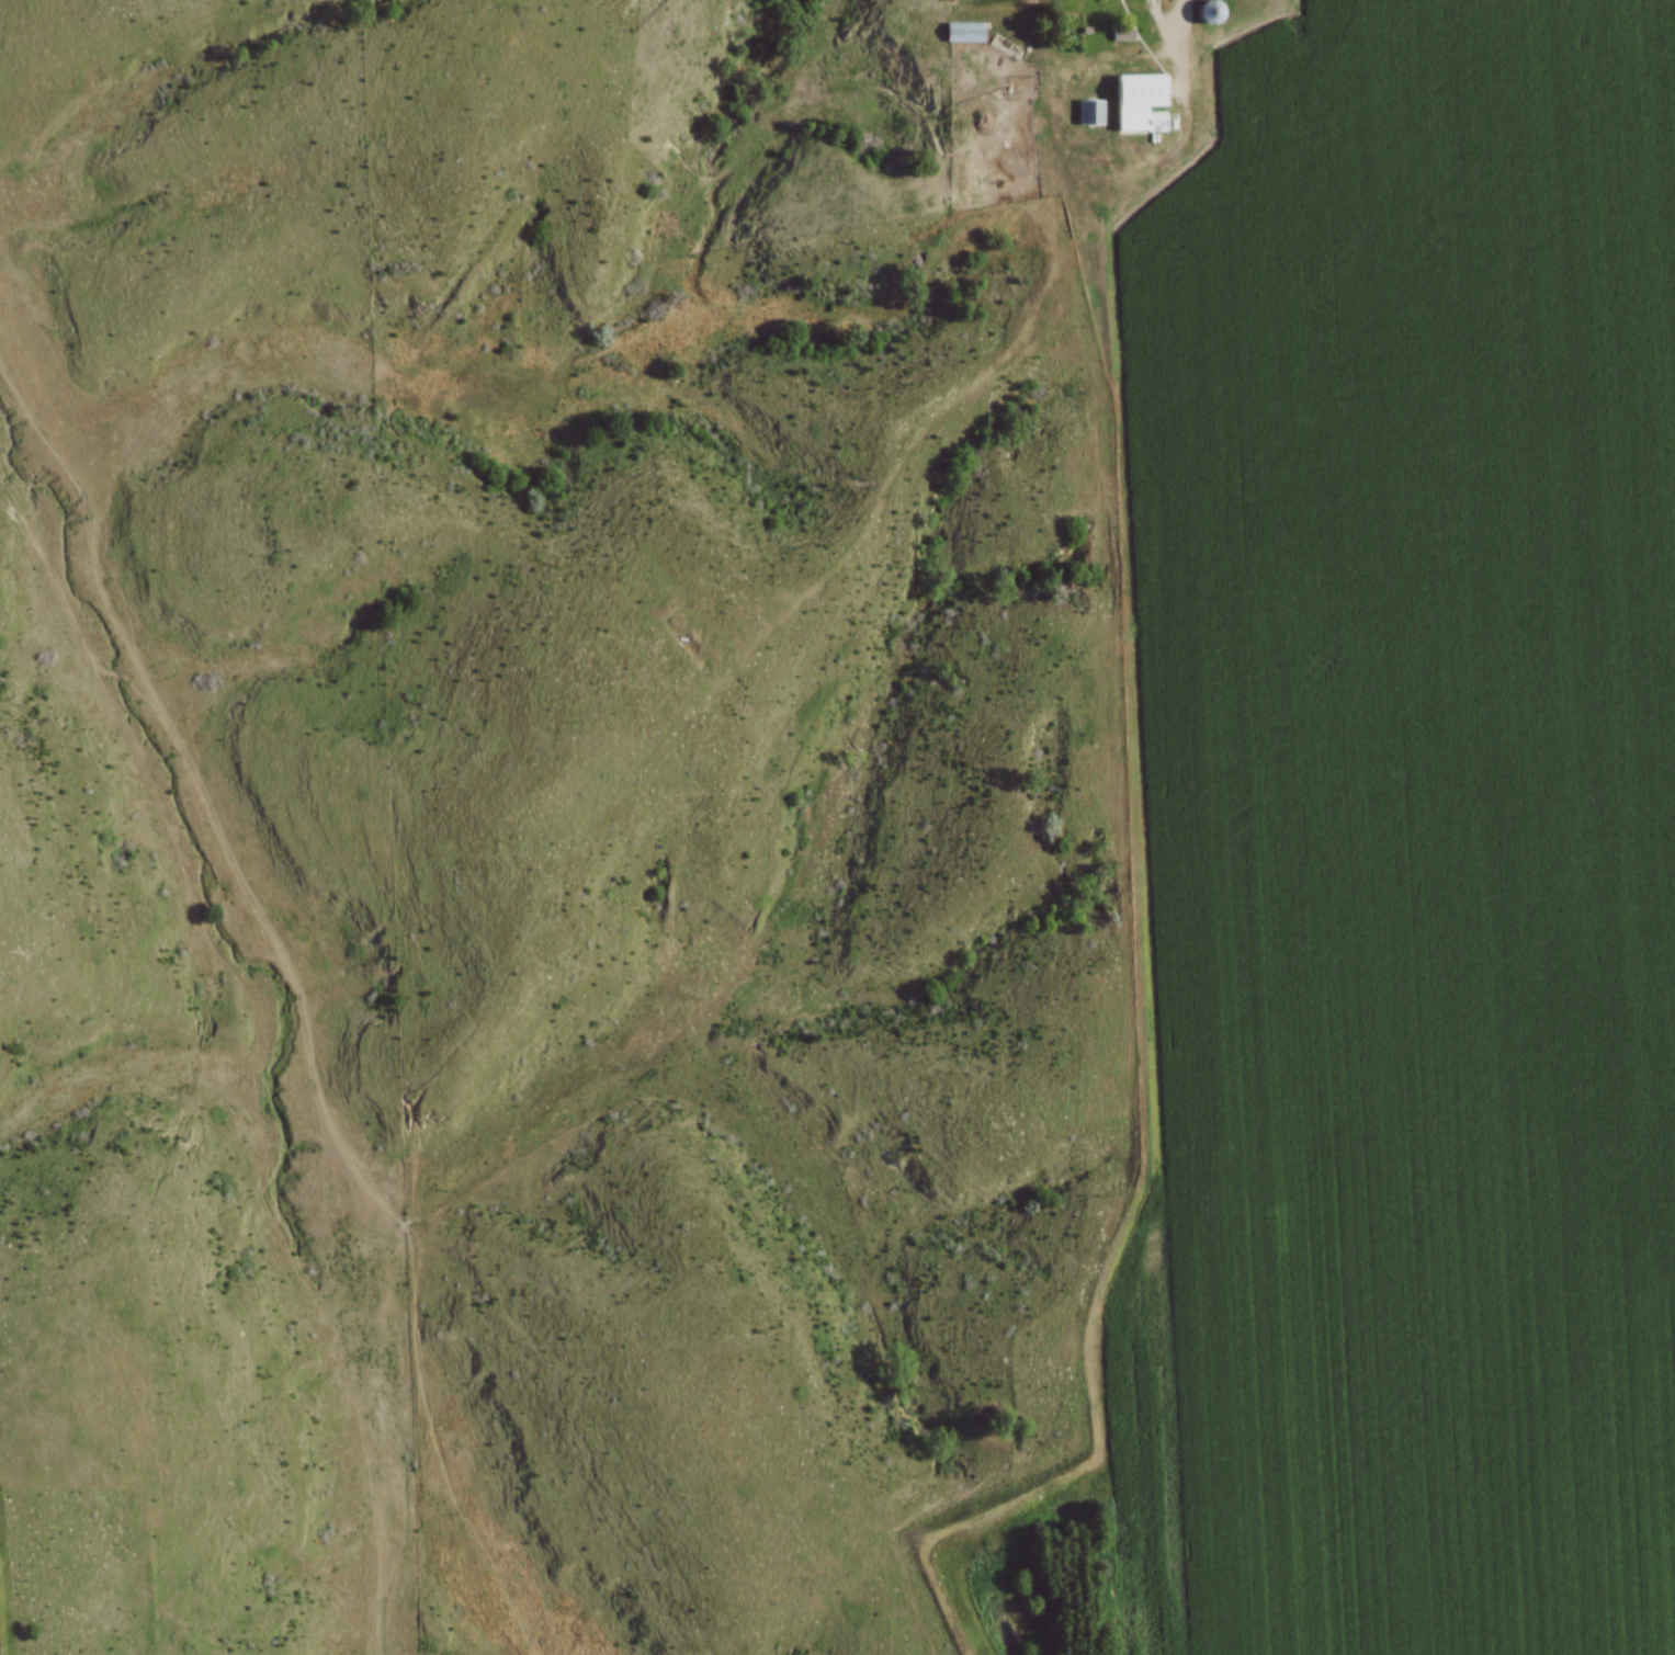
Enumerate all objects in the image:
road: (1184, 4)
building: (1207, 13)
building: (961, 33)
building: (1138, 104)
building: (1088, 113)

